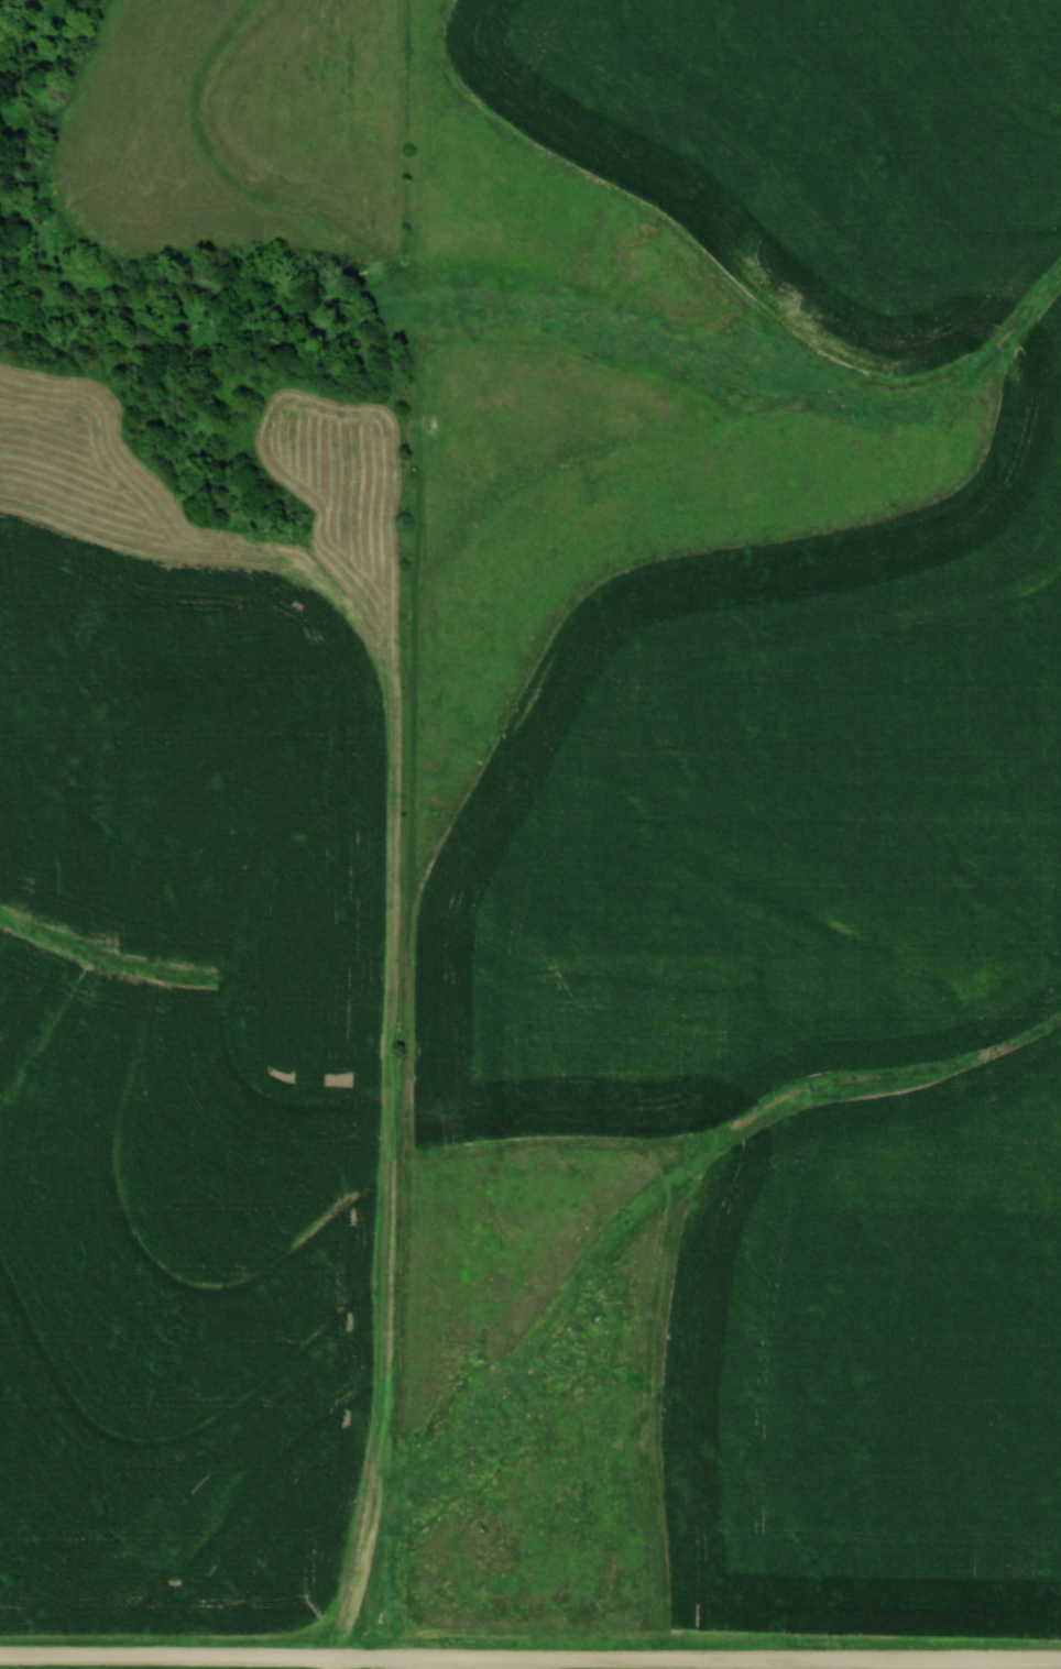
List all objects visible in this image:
road: (530, 1661)

